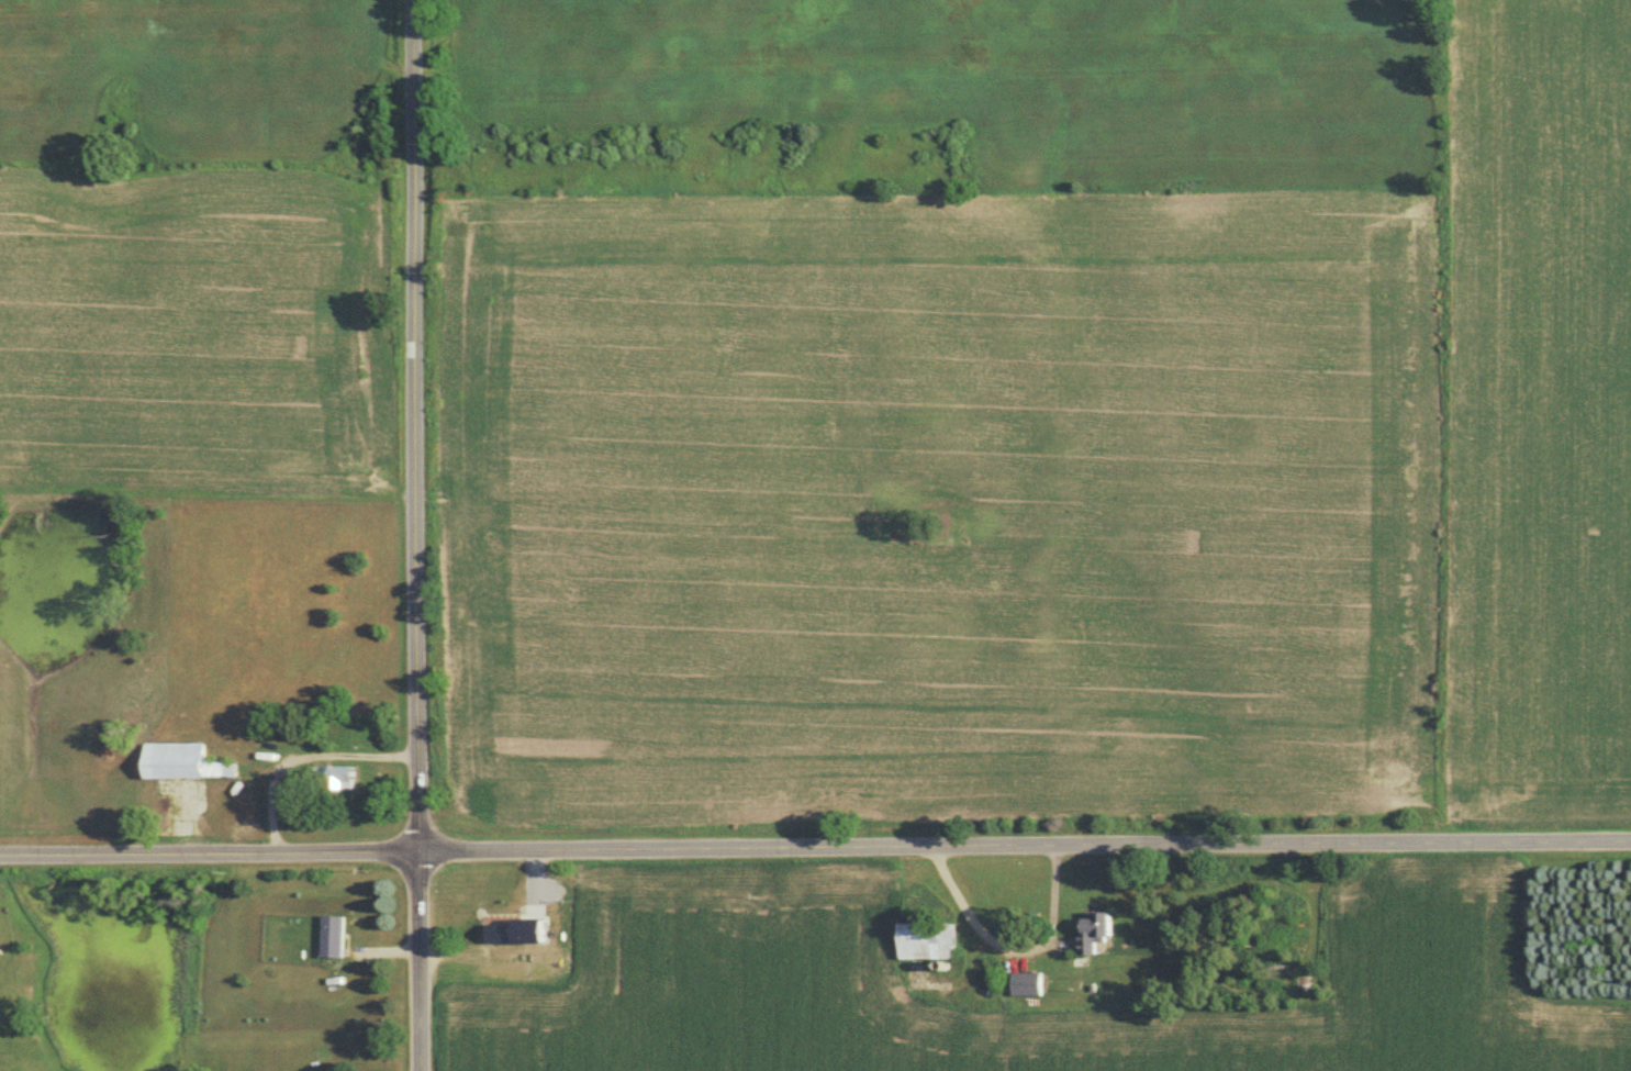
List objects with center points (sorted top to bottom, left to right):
road: (416, 535)
road: (304, 755)
building: (194, 773)
building: (337, 779)
road: (815, 846)
building: (336, 935)
building: (504, 936)
building: (1095, 937)
building: (928, 944)
road: (1013, 944)
road: (538, 956)

